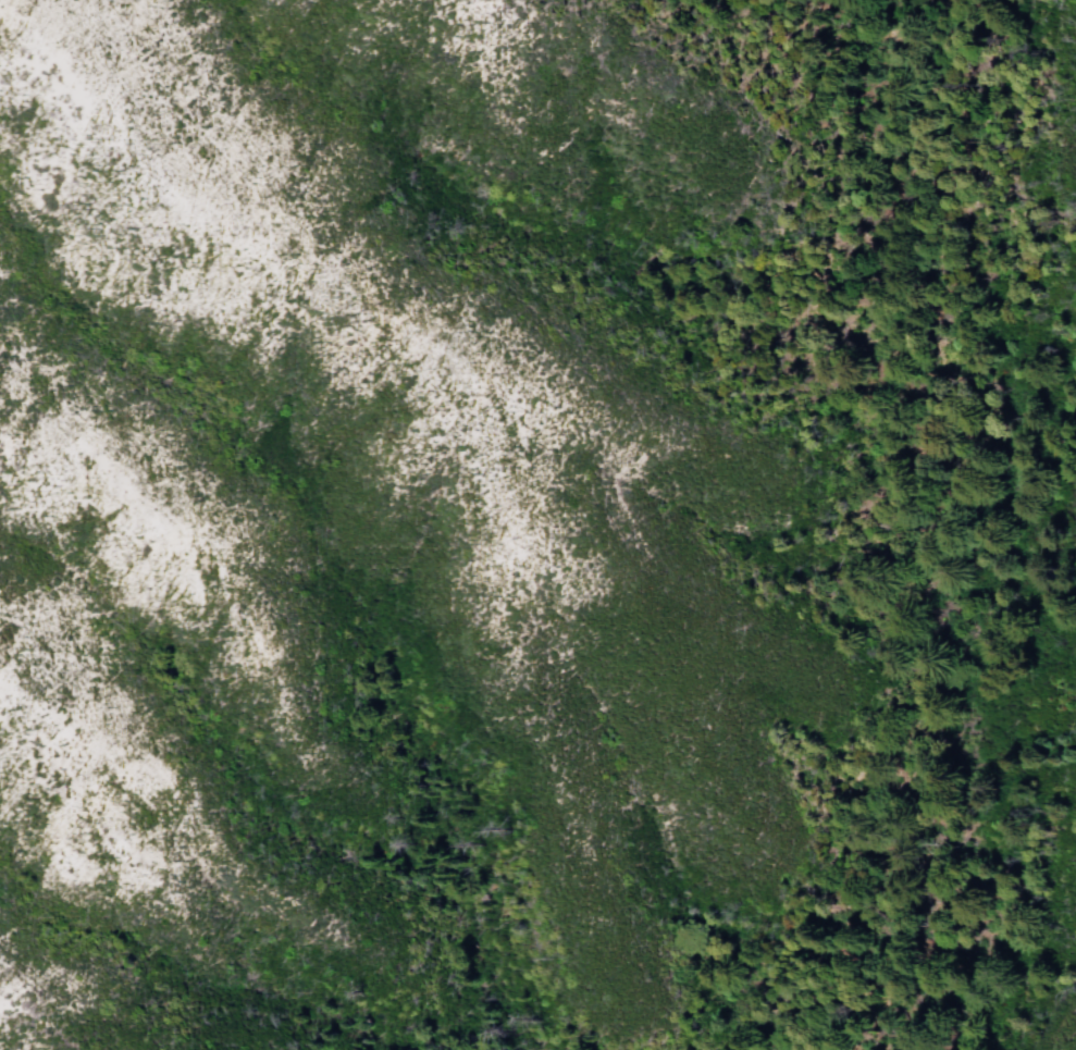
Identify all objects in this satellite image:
road: (1056, 1027)

